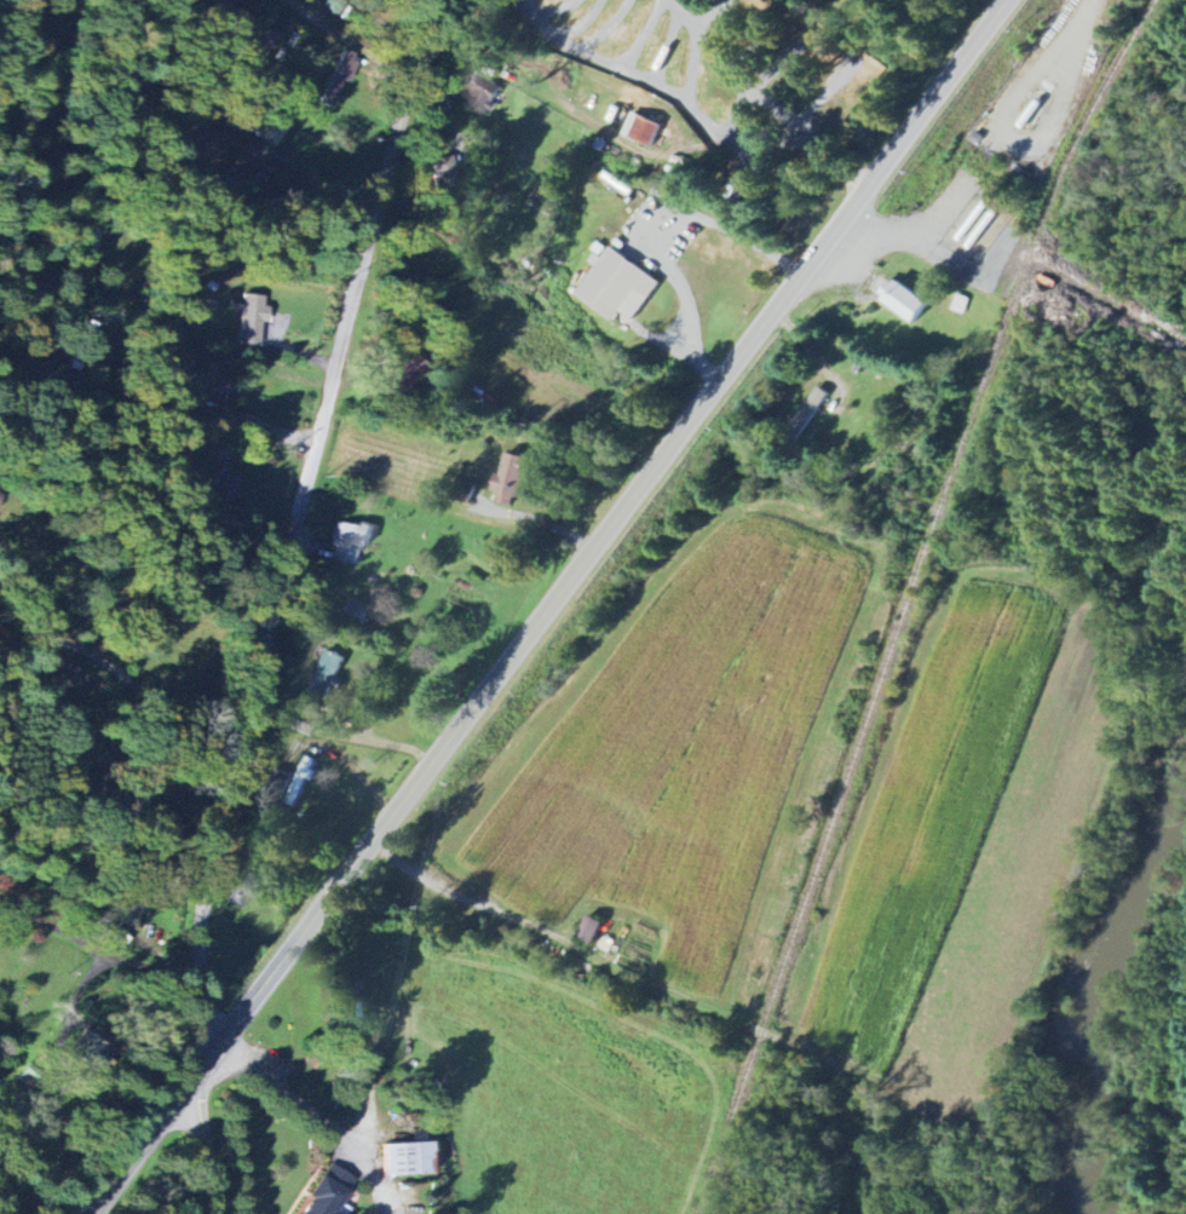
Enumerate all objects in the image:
road: (353, 44)
building: (485, 93)
building: (638, 131)
road: (819, 143)
building: (441, 180)
road: (673, 248)
building: (614, 287)
building: (900, 301)
building: (248, 318)
road: (154, 373)
building: (806, 412)
building: (0, 491)
road: (295, 517)
building: (347, 541)
railway: (909, 598)
road: (554, 610)
road: (113, 667)
building: (327, 675)
road: (97, 752)
building: (301, 779)
road: (58, 928)
building: (586, 931)
road: (94, 971)
river: (1098, 983)
building: (91, 1049)
road: (313, 1104)
road: (205, 1138)
building: (411, 1157)
building: (328, 1197)
road: (45, 1199)

